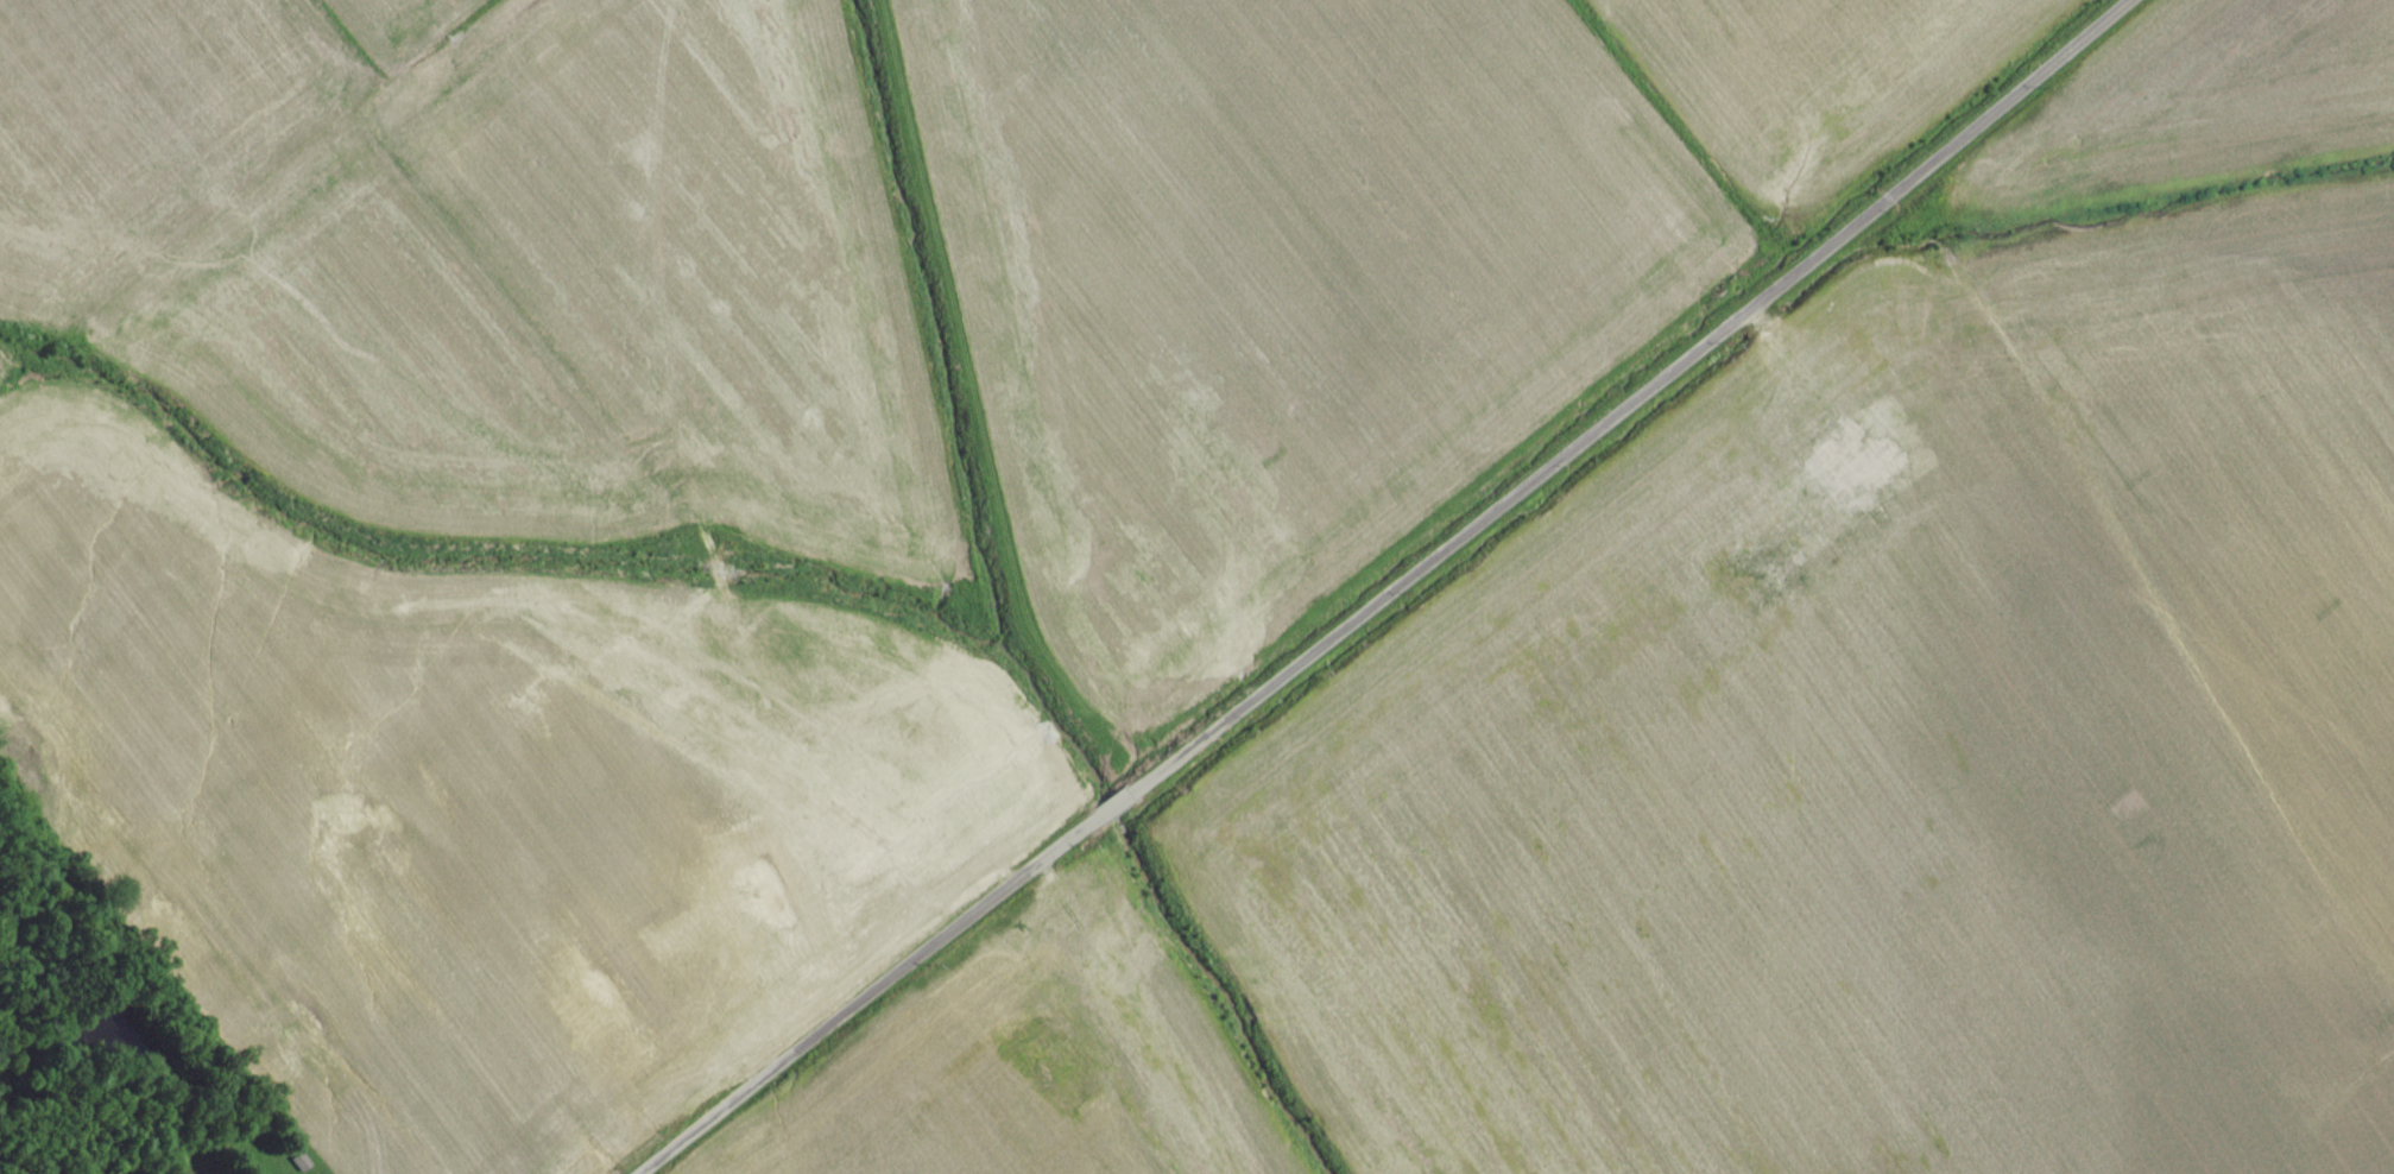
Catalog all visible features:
road: (1376, 586)

